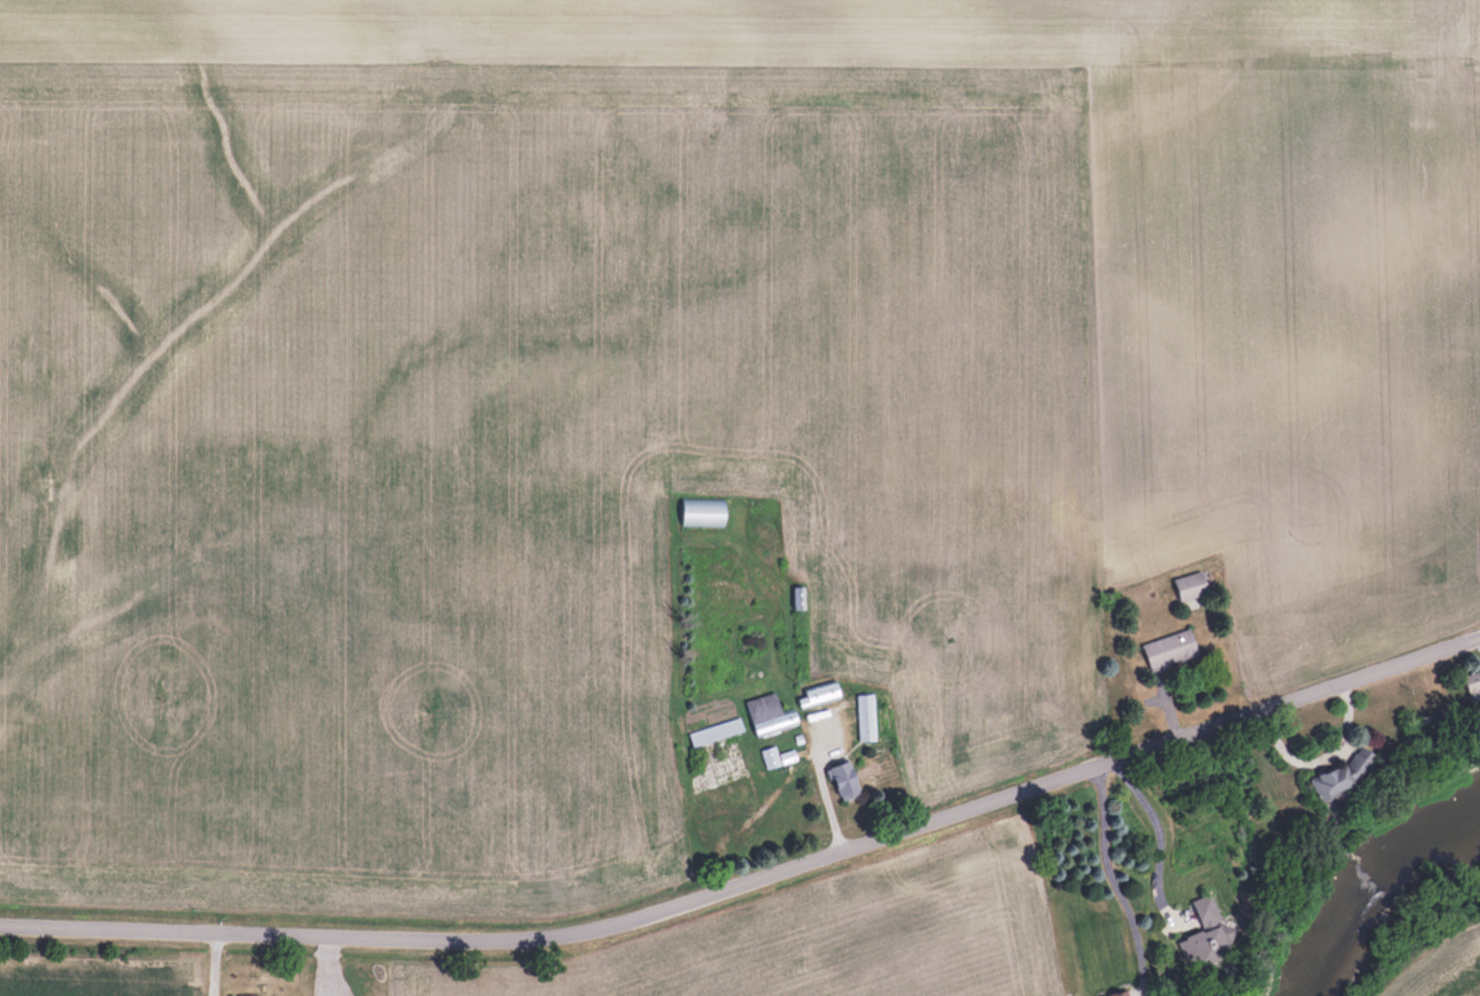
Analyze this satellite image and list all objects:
building: (702, 511)
building: (1192, 588)
building: (799, 597)
building: (1169, 649)
building: (1473, 685)
building: (819, 694)
building: (766, 712)
building: (865, 716)
building: (716, 731)
building: (777, 756)
building: (1340, 774)
building: (843, 780)
building: (721, 798)
road: (1163, 837)
road: (1114, 874)
road: (754, 885)
river: (1380, 894)
building: (1204, 932)
building: (1121, 994)
building: (229, 995)

